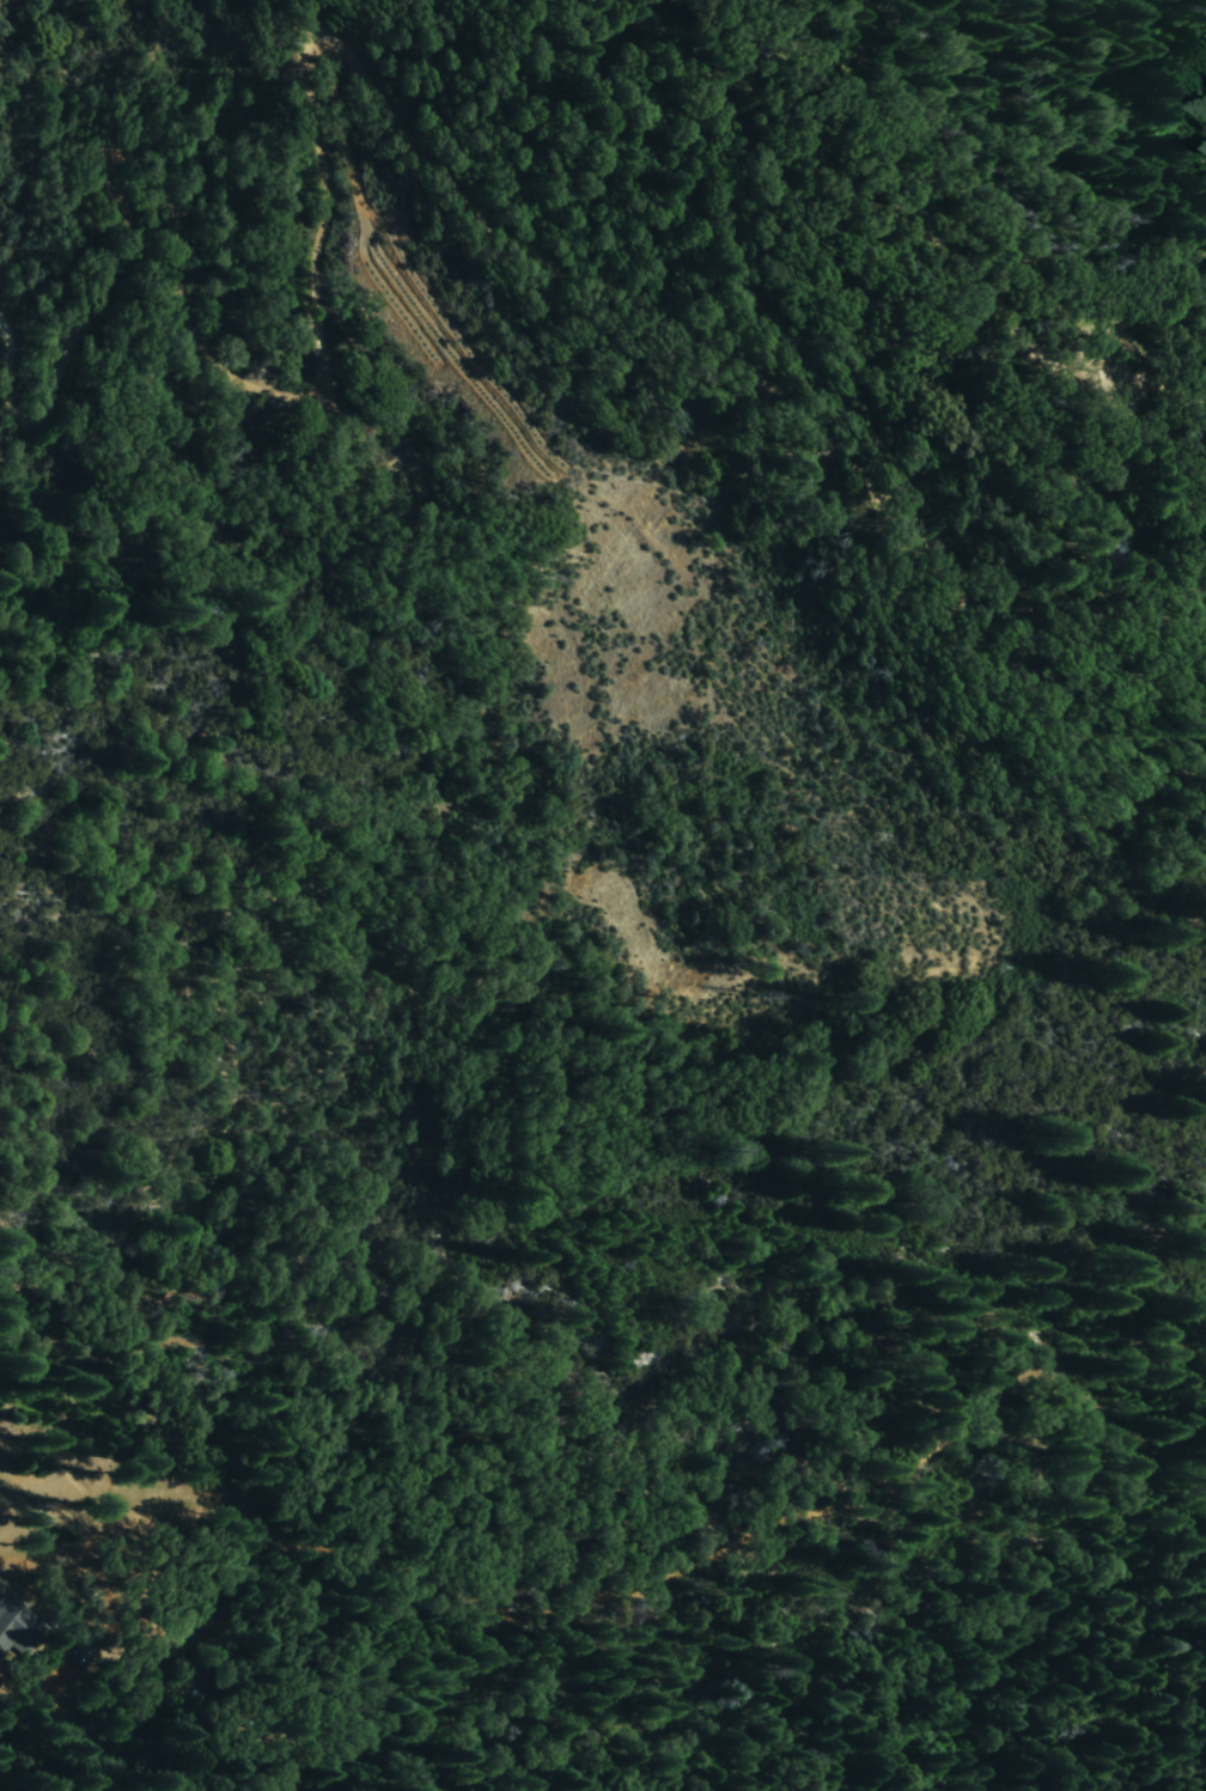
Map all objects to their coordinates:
road: (646, 309)
building: (17, 1627)
building: (205, 1632)
building: (84, 1653)

